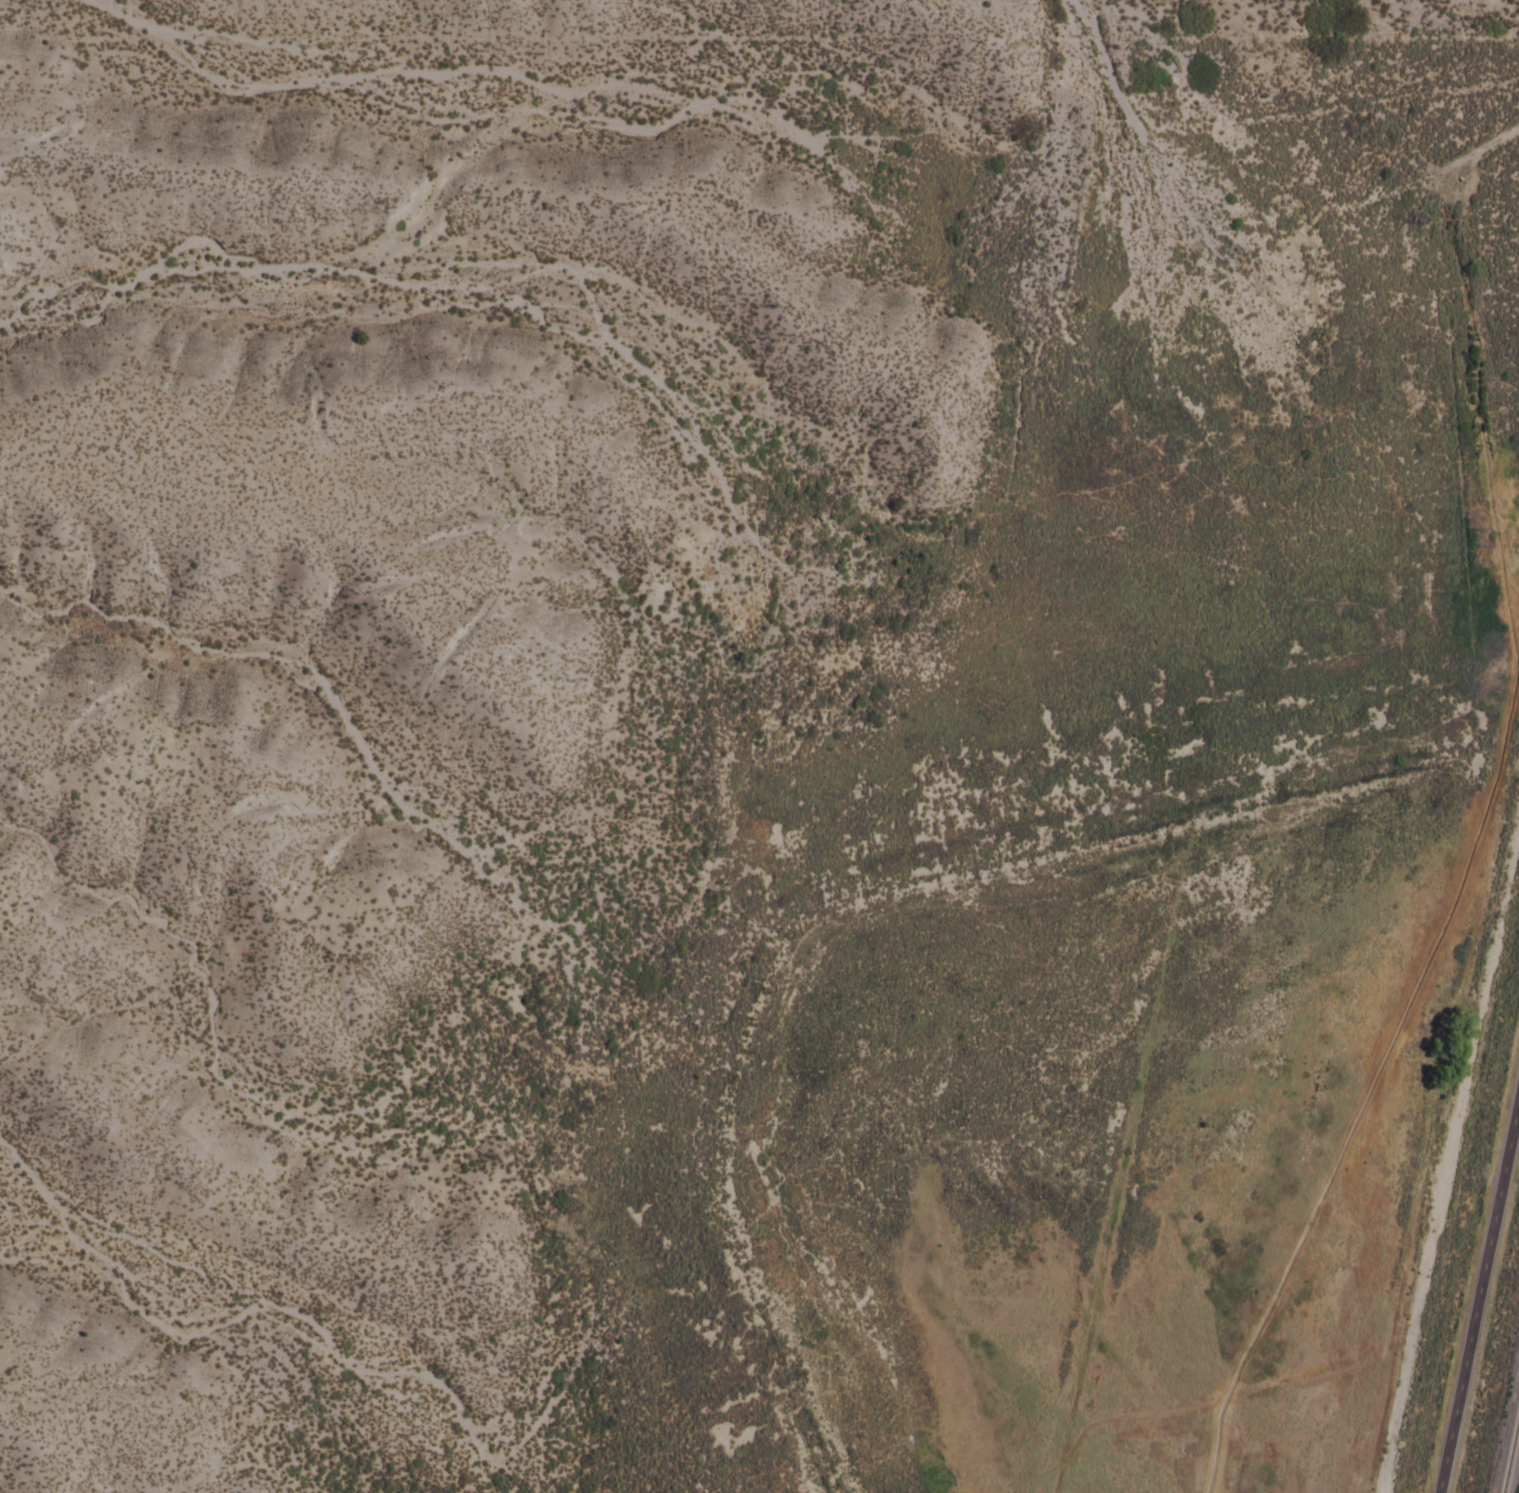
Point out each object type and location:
road: (1473, 171)
road: (1443, 175)
road: (1464, 1088)
road: (1480, 1303)
road: (1399, 1411)
railway: (1512, 1458)

